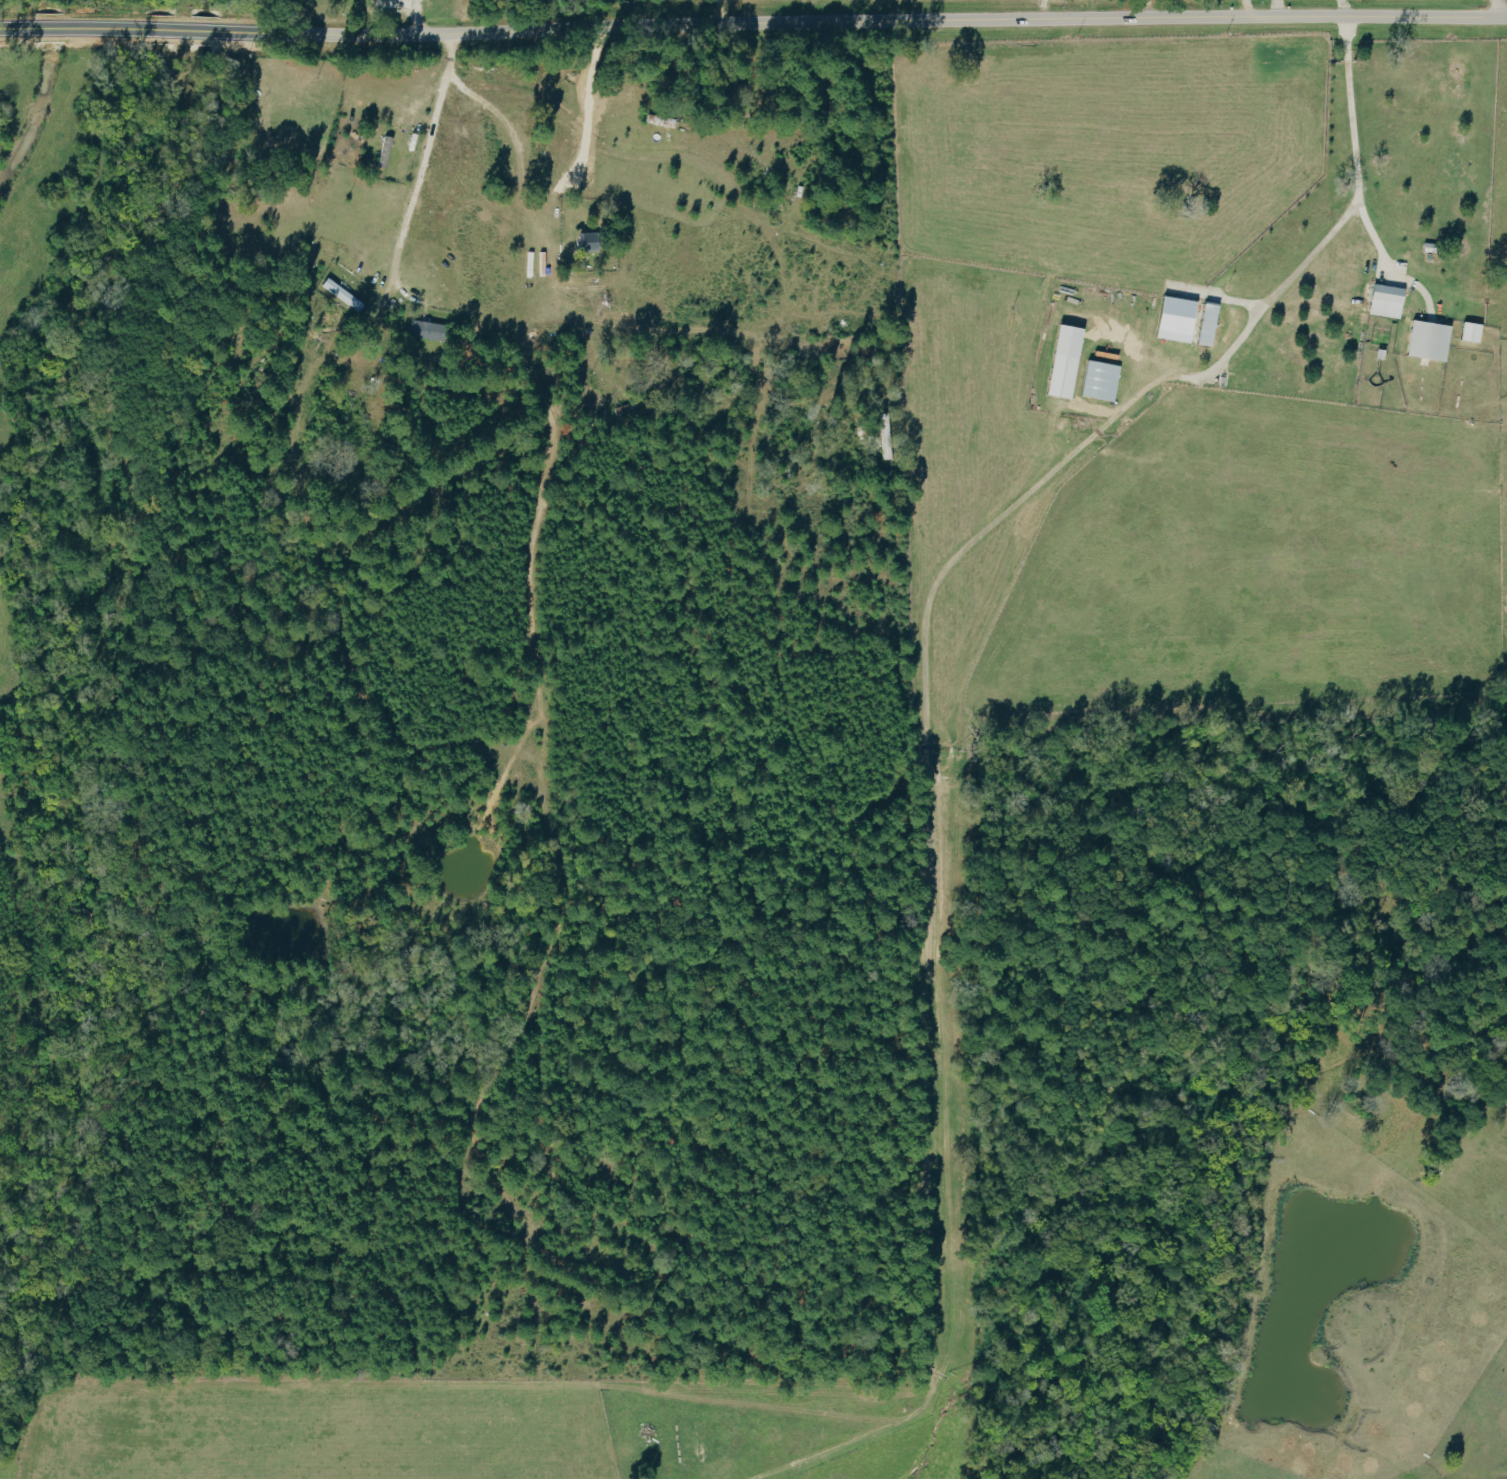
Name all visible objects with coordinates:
road: (1273, 5)
road: (1341, 5)
road: (1148, 6)
road: (1243, 6)
road: (1495, 7)
road: (716, 9)
road: (753, 18)
road: (544, 103)
building: (386, 152)
road: (416, 170)
road: (1348, 209)
building: (590, 242)
road: (1381, 254)
building: (345, 295)
road: (1213, 296)
building: (1389, 302)
building: (1181, 320)
building: (1211, 324)
building: (432, 331)
building: (1474, 332)
building: (1432, 341)
building: (1069, 363)
building: (1103, 381)

